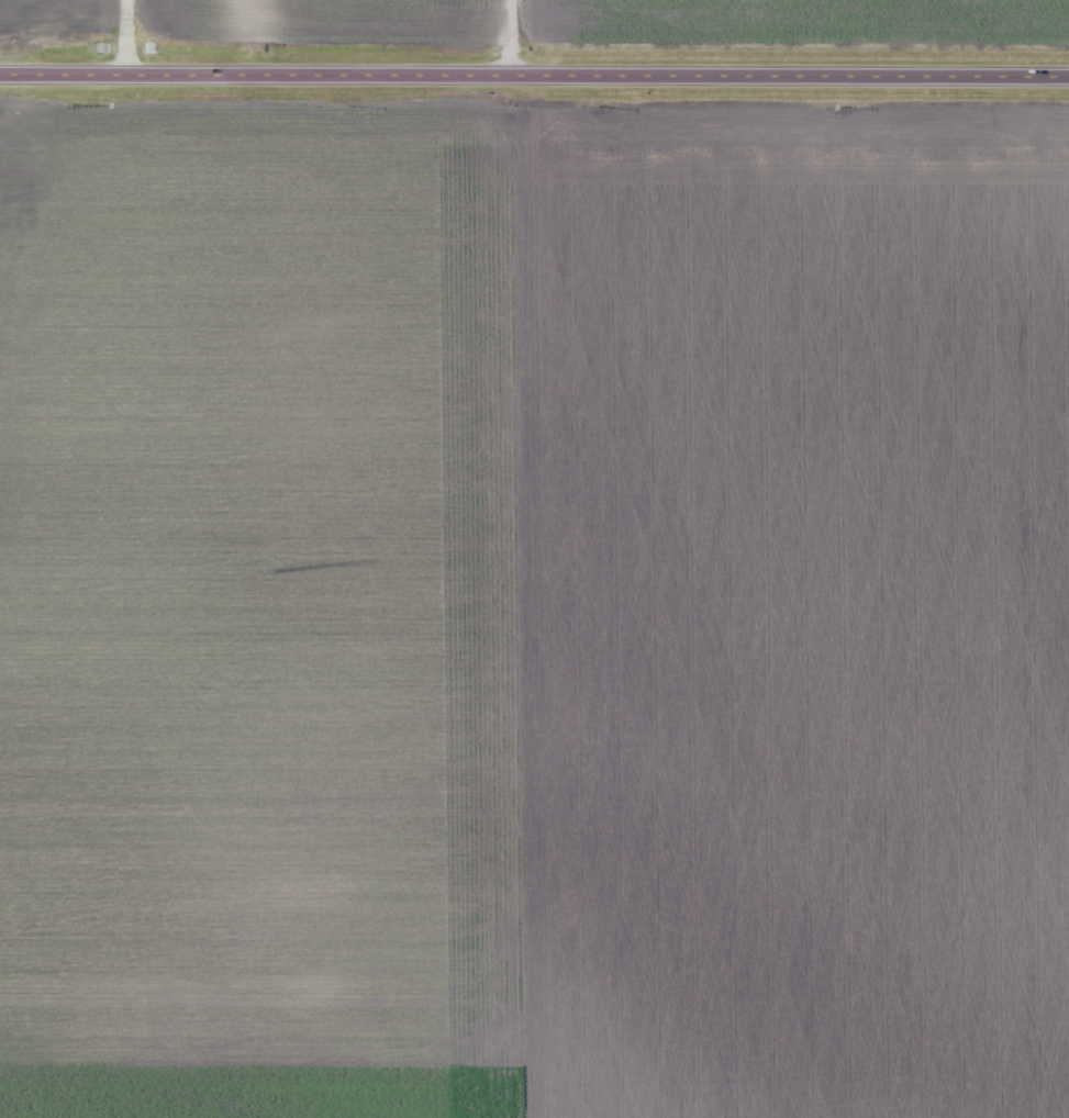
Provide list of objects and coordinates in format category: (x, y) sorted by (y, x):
road: (534, 76)
road: (153, 404)

